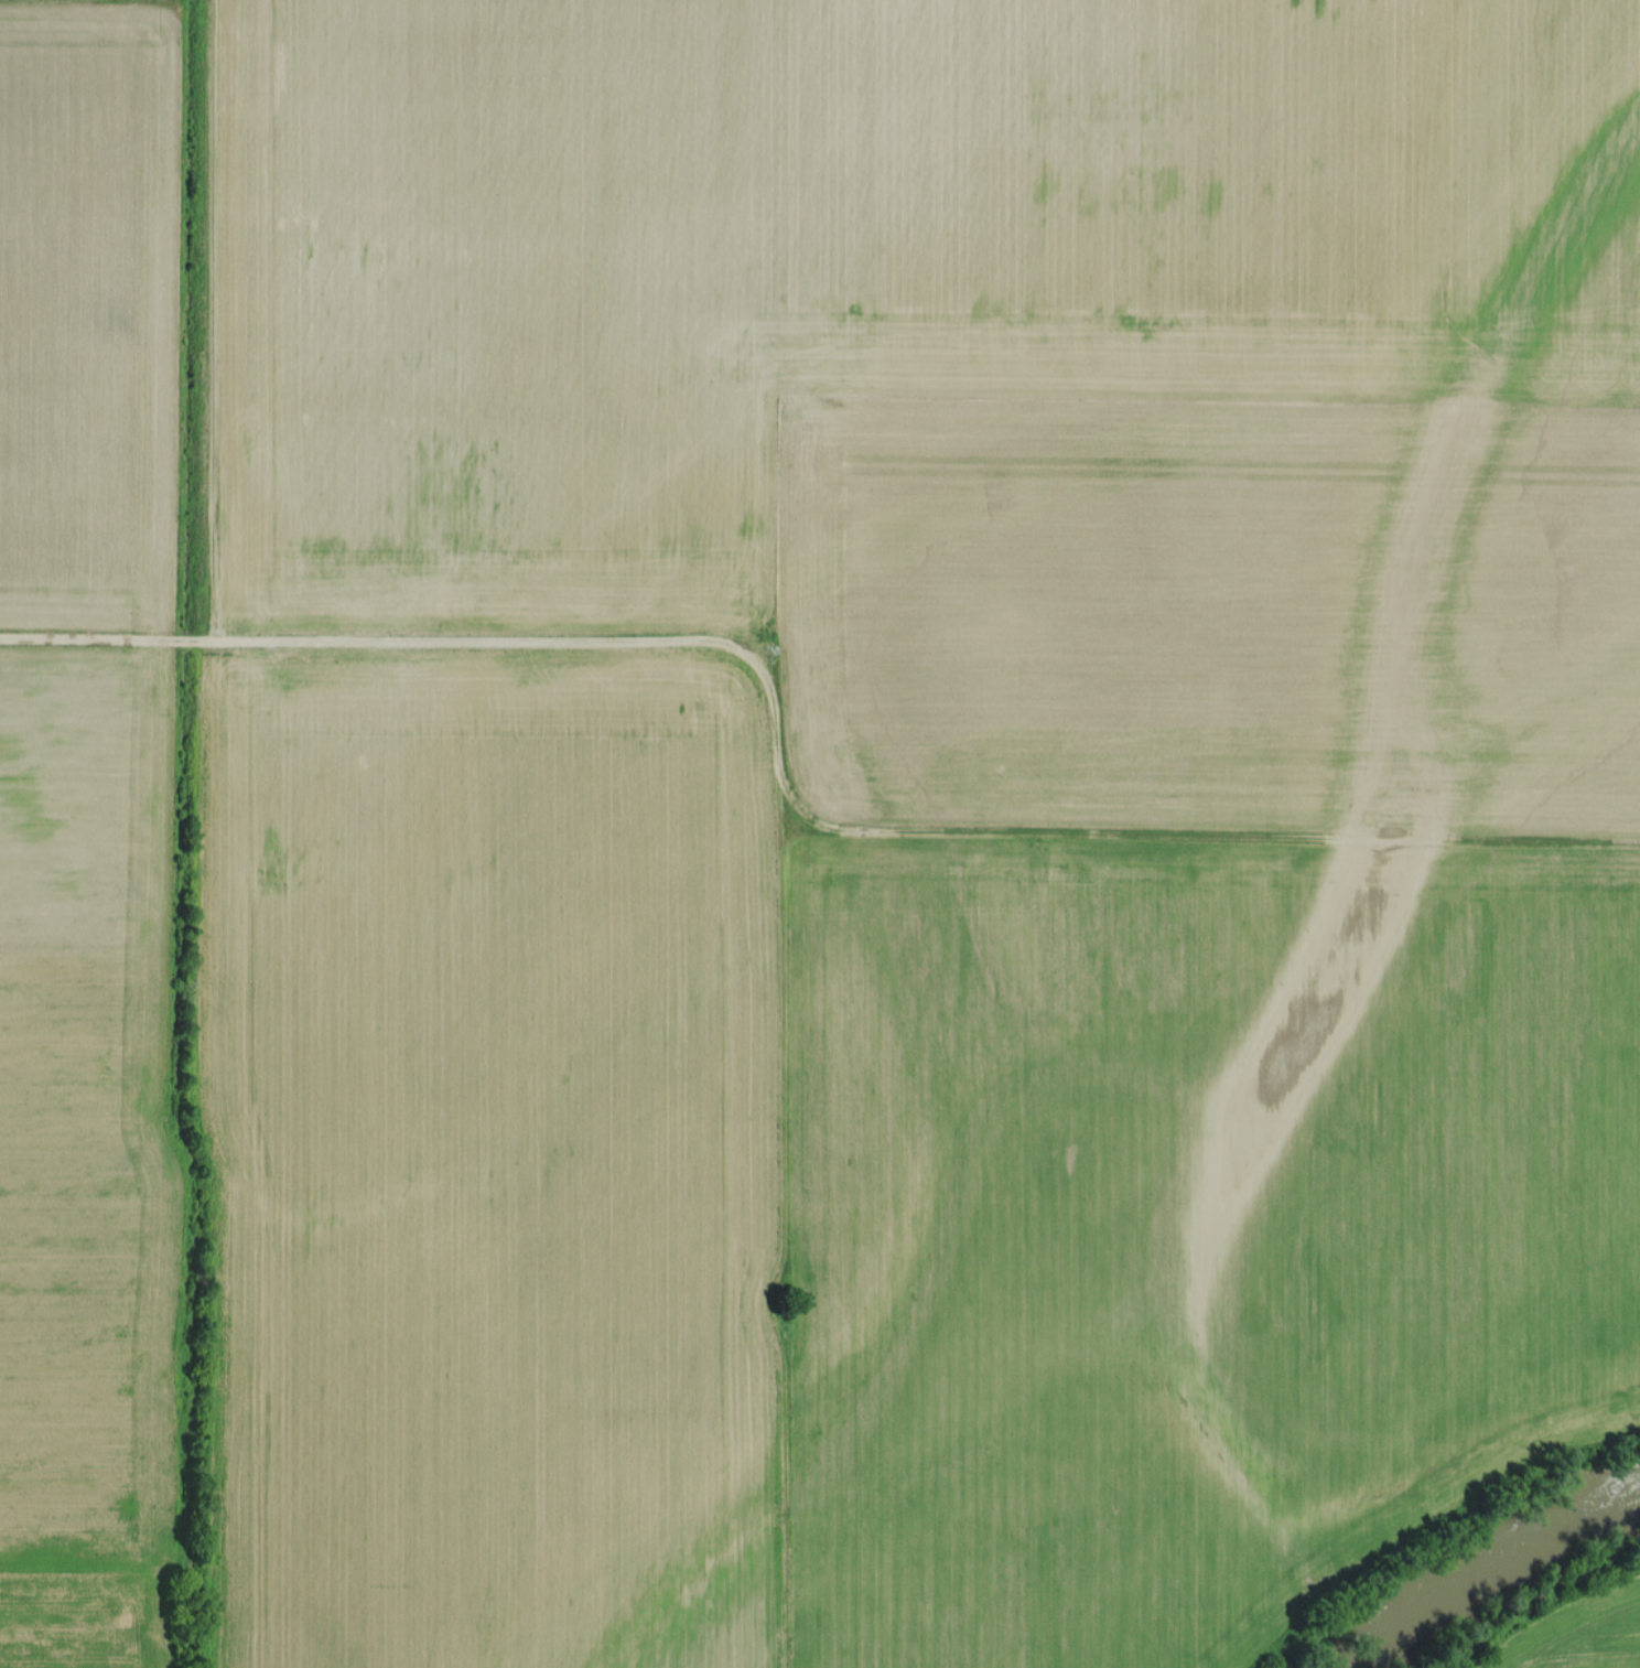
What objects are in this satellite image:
river: (1491, 1567)

